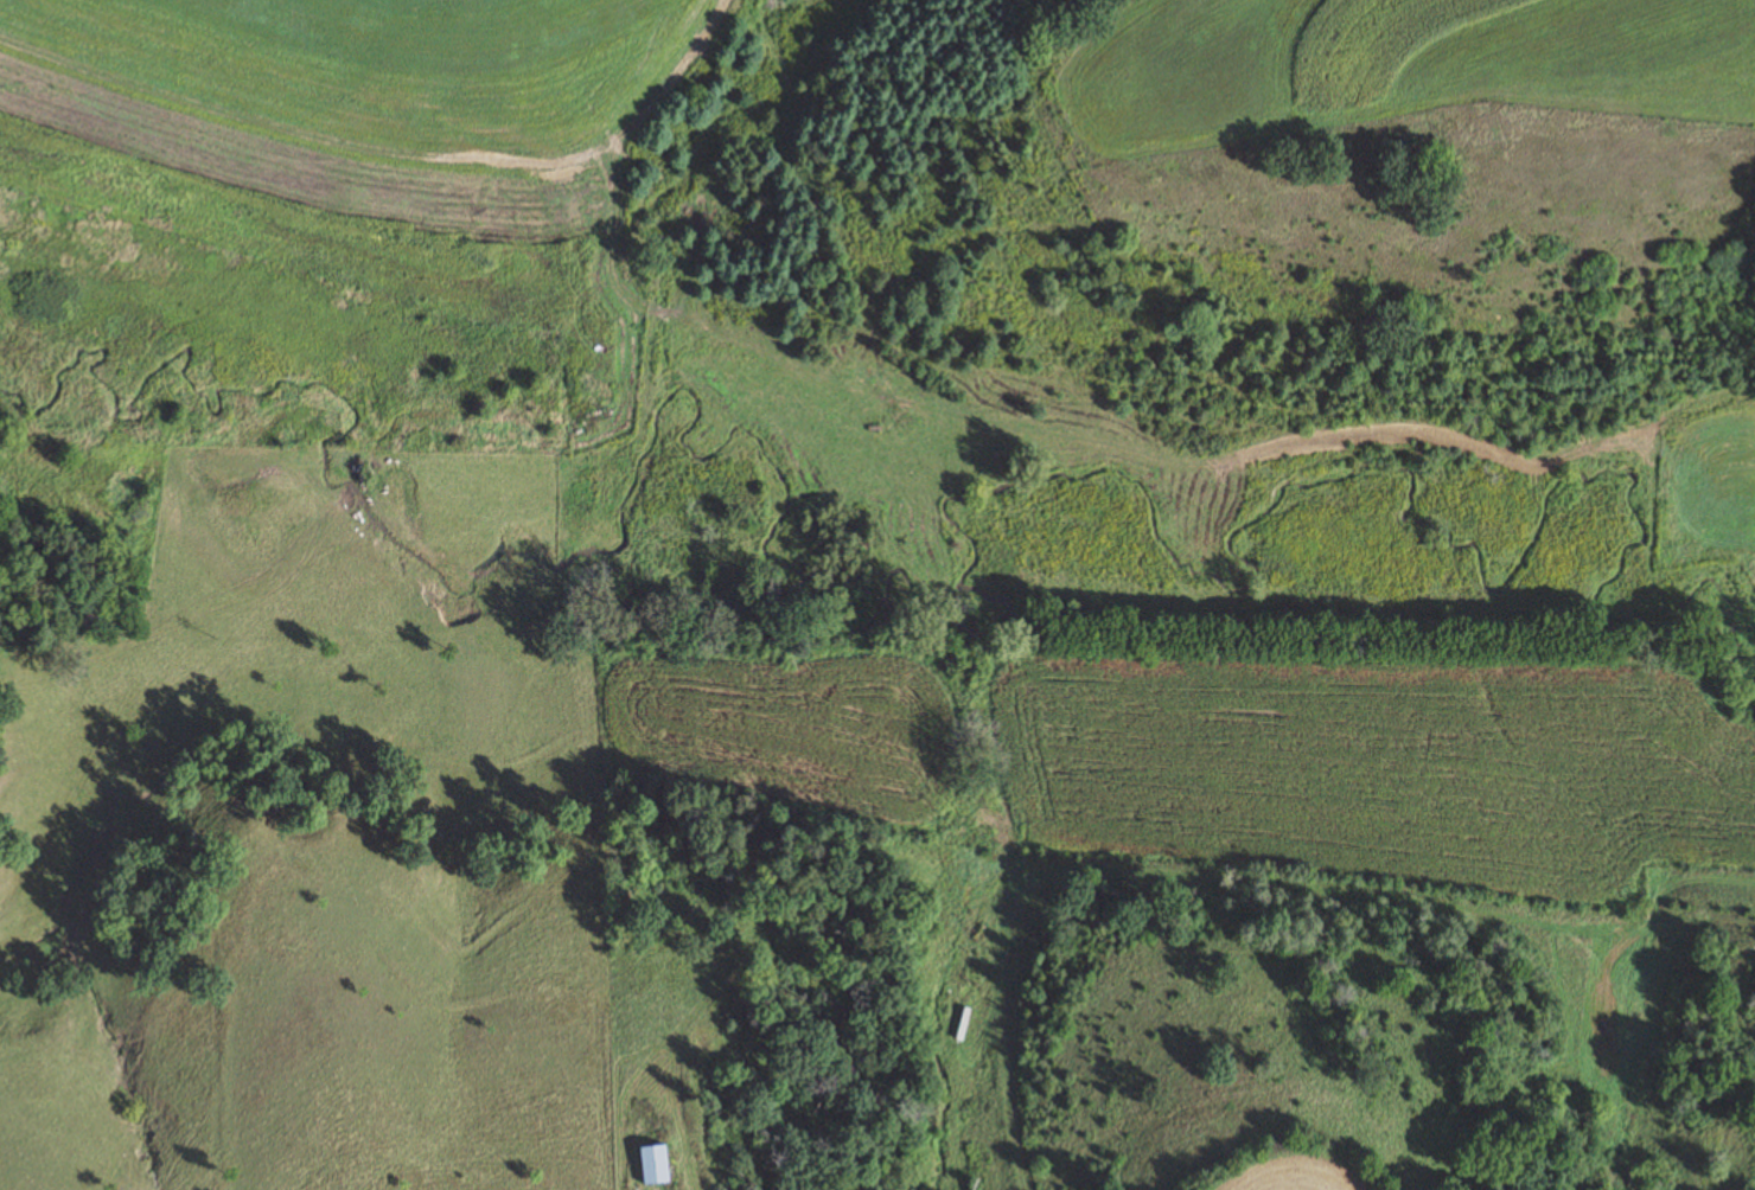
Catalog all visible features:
building: (656, 1164)

